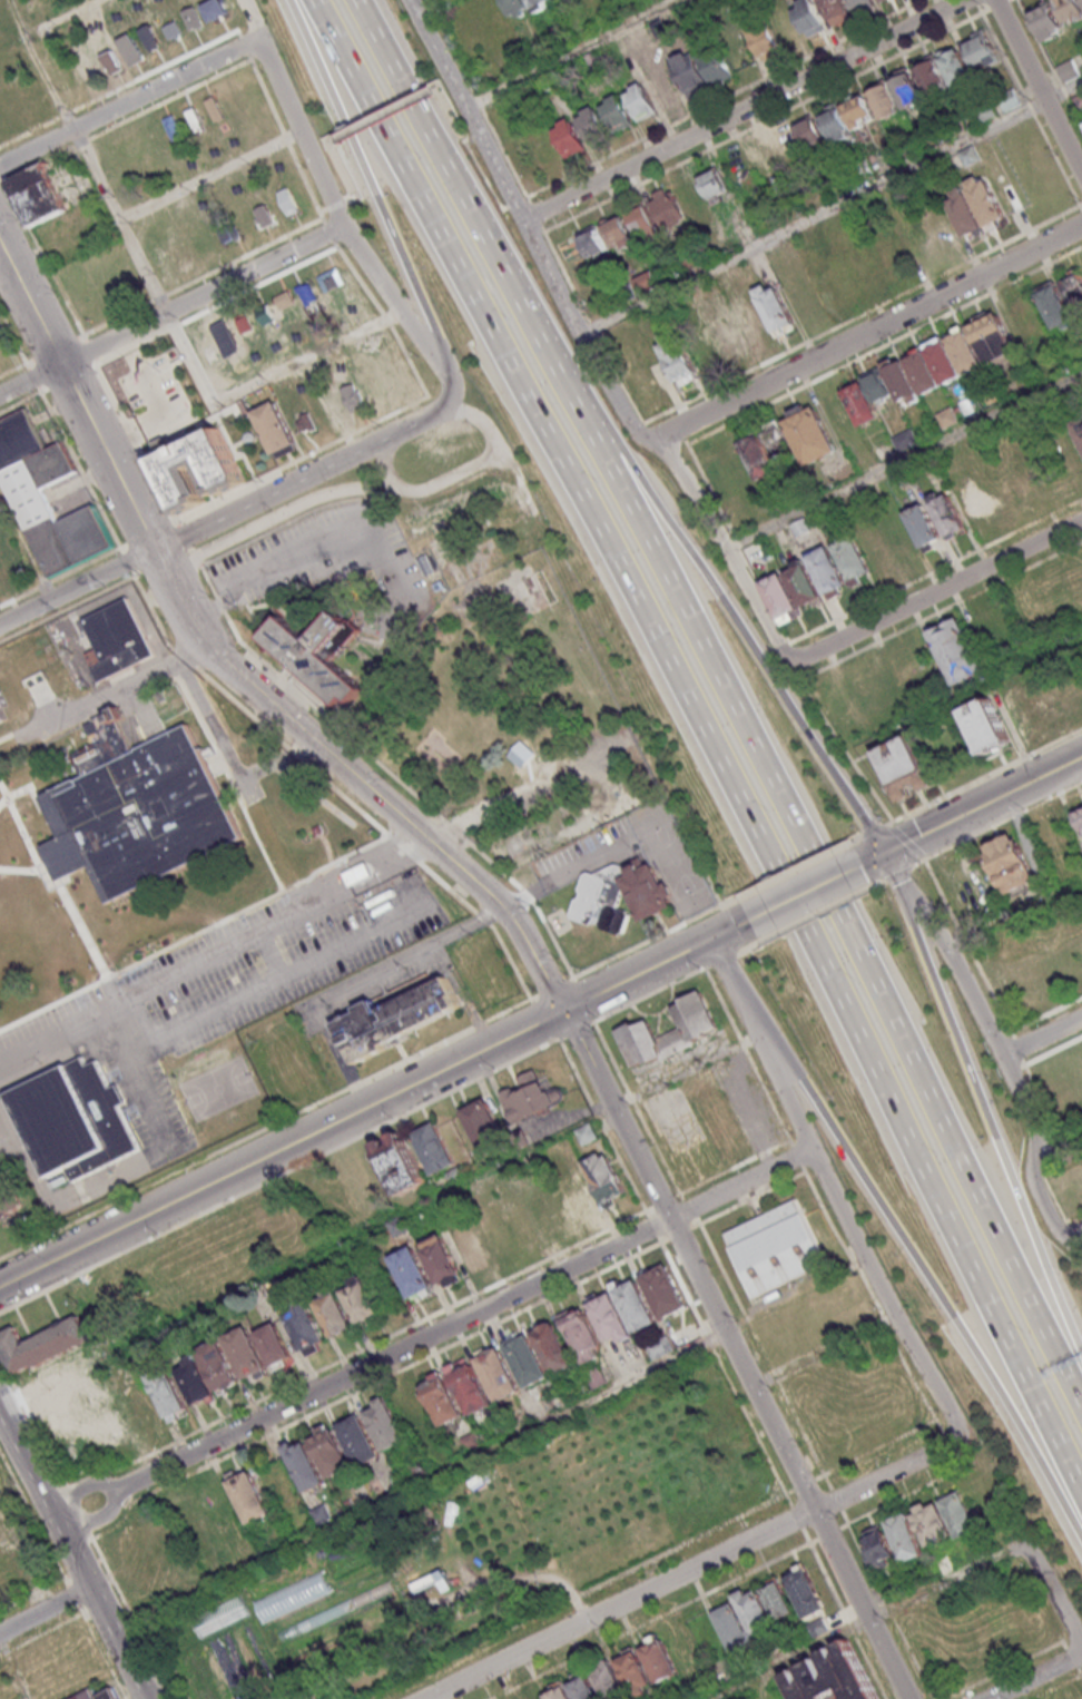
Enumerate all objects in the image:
building: (881, 0)
building: (538, 2)
road: (977, 2)
building: (862, 3)
building: (515, 6)
building: (836, 10)
building: (1070, 10)
building: (809, 17)
road: (249, 19)
building: (1046, 20)
building: (765, 40)
building: (981, 48)
road: (573, 53)
road: (247, 59)
building: (715, 62)
road: (1050, 63)
building: (955, 65)
building: (1069, 69)
building: (689, 70)
building: (932, 73)
road: (1040, 84)
building: (907, 88)
road: (727, 98)
building: (884, 99)
road: (129, 100)
building: (641, 100)
road: (464, 101)
building: (1079, 101)
road: (1031, 106)
road: (745, 109)
road: (383, 111)
building: (859, 111)
road: (452, 112)
building: (618, 112)
road: (296, 121)
building: (836, 122)
building: (593, 125)
building: (810, 131)
building: (570, 137)
road: (79, 144)
road: (716, 145)
building: (789, 148)
building: (971, 155)
road: (36, 165)
road: (342, 167)
road: (1, 175)
road: (210, 175)
road: (486, 177)
road: (451, 178)
building: (716, 185)
road: (366, 186)
building: (37, 195)
road: (350, 199)
road: (523, 199)
building: (987, 199)
road: (513, 205)
building: (666, 205)
road: (335, 206)
road: (832, 207)
road: (323, 210)
building: (967, 210)
road: (338, 216)
building: (642, 219)
building: (618, 229)
road: (329, 230)
building: (593, 240)
road: (245, 257)
road: (45, 259)
road: (357, 277)
building: (647, 281)
road: (259, 286)
building: (1073, 291)
road: (159, 298)
road: (393, 298)
building: (1054, 305)
building: (775, 306)
road: (171, 308)
road: (115, 320)
road: (386, 320)
building: (750, 321)
road: (175, 326)
building: (726, 330)
road: (580, 332)
road: (872, 332)
building: (993, 336)
road: (813, 340)
road: (14, 341)
road: (884, 346)
road: (130, 348)
road: (55, 350)
road: (90, 351)
building: (963, 351)
building: (678, 357)
road: (190, 360)
road: (410, 361)
building: (943, 362)
building: (396, 367)
road: (16, 369)
building: (922, 372)
road: (33, 379)
road: (69, 379)
building: (373, 379)
building: (902, 382)
building: (877, 385)
road: (180, 392)
road: (149, 393)
parking lot: (155, 395)
road: (77, 399)
building: (1070, 401)
road: (23, 402)
building: (860, 403)
road: (186, 405)
building: (970, 409)
road: (178, 411)
road: (191, 416)
road: (166, 418)
building: (948, 419)
road: (184, 421)
road: (480, 422)
building: (277, 426)
road: (171, 428)
building: (1079, 428)
building: (809, 433)
road: (681, 434)
road: (132, 435)
building: (19, 440)
building: (906, 440)
road: (135, 443)
building: (759, 456)
road: (299, 460)
road: (904, 461)
road: (384, 468)
road: (80, 471)
road: (316, 471)
building: (226, 475)
road: (709, 489)
road: (329, 494)
road: (3, 507)
building: (55, 513)
building: (948, 513)
building: (922, 526)
building: (801, 528)
road: (147, 532)
road: (184, 537)
road: (738, 542)
road: (27, 547)
road: (726, 547)
road: (193, 549)
parking lot: (313, 553)
road: (197, 558)
building: (852, 558)
road: (128, 562)
road: (88, 564)
building: (826, 569)
road: (659, 570)
road: (932, 572)
building: (0, 582)
building: (803, 582)
road: (43, 586)
road: (78, 590)
road: (936, 590)
road: (766, 596)
building: (779, 596)
road: (19, 599)
road: (720, 602)
road: (68, 610)
building: (118, 639)
building: (958, 650)
building: (319, 652)
road: (1022, 658)
road: (114, 695)
building: (1025, 700)
road: (308, 704)
building: (2, 706)
road: (248, 711)
building: (985, 724)
road: (212, 726)
chimney: (96, 730)
road: (709, 743)
road: (276, 762)
building: (906, 765)
road: (983, 776)
road: (358, 782)
building: (139, 809)
building: (1079, 814)
road: (962, 816)
road: (873, 829)
road: (454, 831)
road: (845, 841)
road: (402, 849)
parking lot: (584, 852)
traffic signals: (888, 854)
building: (1080, 856)
road: (486, 861)
building: (1010, 863)
road: (796, 865)
road: (514, 885)
road: (447, 888)
building: (648, 892)
road: (805, 892)
building: (602, 900)
road: (323, 904)
road: (247, 909)
road: (482, 920)
road: (476, 922)
road: (666, 931)
road: (548, 933)
road: (270, 956)
road: (509, 963)
parking lot: (258, 965)
road: (726, 975)
road: (579, 979)
parking lot: (382, 980)
road: (160, 982)
road: (553, 989)
road: (717, 995)
road: (244, 996)
road: (587, 1000)
road: (530, 1001)
traffic signals: (562, 1011)
road: (315, 1013)
parking lot: (307, 1018)
building: (396, 1018)
road: (543, 1019)
road: (141, 1020)
road: (594, 1020)
building: (695, 1030)
road: (576, 1031)
road: (1041, 1035)
road: (560, 1038)
road: (1052, 1049)
road: (999, 1051)
road: (686, 1073)
parking lot: (151, 1083)
park: (218, 1089)
building: (529, 1096)
road: (384, 1098)
road: (926, 1098)
road: (982, 1108)
road: (637, 1112)
building: (73, 1118)
building: (716, 1123)
building: (484, 1125)
road: (600, 1125)
road: (268, 1126)
building: (587, 1133)
building: (434, 1147)
road: (746, 1161)
building: (400, 1162)
road: (1058, 1163)
road: (278, 1173)
building: (606, 1176)
road: (780, 1184)
building: (579, 1196)
building: (9, 1201)
road: (661, 1204)
road: (688, 1210)
road: (646, 1216)
road: (696, 1221)
road: (692, 1226)
road: (847, 1226)
road: (652, 1227)
road: (1072, 1228)
road: (678, 1234)
road: (658, 1240)
road: (663, 1241)
building: (465, 1243)
building: (775, 1246)
building: (441, 1260)
building: (412, 1273)
road: (919, 1275)
building: (662, 1289)
building: (362, 1302)
building: (635, 1305)
building: (333, 1313)
road: (744, 1317)
building: (610, 1318)
road: (463, 1319)
road: (884, 1320)
building: (305, 1327)
building: (582, 1333)
building: (274, 1343)
building: (42, 1344)
building: (659, 1346)
road: (759, 1346)
building: (552, 1347)
road: (824, 1351)
building: (246, 1353)
road: (737, 1353)
road: (355, 1354)
building: (527, 1359)
building: (218, 1365)
building: (496, 1372)
road: (391, 1374)
road: (726, 1374)
building: (596, 1376)
road: (773, 1376)
building: (196, 1381)
road: (913, 1382)
building: (470, 1388)
building: (167, 1391)
building: (442, 1400)
road: (696, 1415)
building: (386, 1423)
road: (804, 1437)
building: (470, 1438)
building: (358, 1440)
road: (945, 1440)
building: (329, 1450)
road: (874, 1451)
building: (304, 1464)
road: (420, 1483)
road: (803, 1485)
road: (116, 1492)
road: (788, 1493)
road: (907, 1494)
building: (248, 1495)
road: (836, 1501)
road: (76, 1511)
building: (958, 1513)
building: (322, 1514)
road: (796, 1518)
road: (33, 1519)
building: (932, 1523)
road: (827, 1534)
road: (805, 1536)
building: (905, 1536)
road: (90, 1539)
road: (96, 1539)
road: (678, 1545)
crop: (470, 1546)
building: (876, 1546)
road: (72, 1554)
building: (371, 1558)
road: (863, 1558)
crop: (344, 1560)
road: (692, 1568)
road: (367, 1570)
road: (537, 1573)
building: (427, 1581)
road: (828, 1583)
building: (896, 1584)
building: (805, 1590)
road: (71, 1592)
road: (118, 1593)
building: (291, 1598)
building: (777, 1599)
road: (1052, 1602)
road: (208, 1608)
road: (303, 1608)
building: (324, 1608)
road: (45, 1609)
building: (754, 1610)
road: (888, 1610)
road: (655, 1619)
road: (865, 1620)
building: (731, 1623)
road: (849, 1627)
road: (268, 1642)
road: (100, 1650)
building: (658, 1658)
road: (911, 1658)
road: (1072, 1658)
road: (361, 1660)
road: (1080, 1661)
road: (869, 1666)
road: (1009, 1669)
road: (13, 1670)
building: (633, 1670)
road: (1080, 1671)
building: (834, 1677)
road: (1035, 1679)
building: (608, 1680)
building: (581, 1687)
road: (1059, 1687)
building: (557, 1691)
building: (89, 1693)

